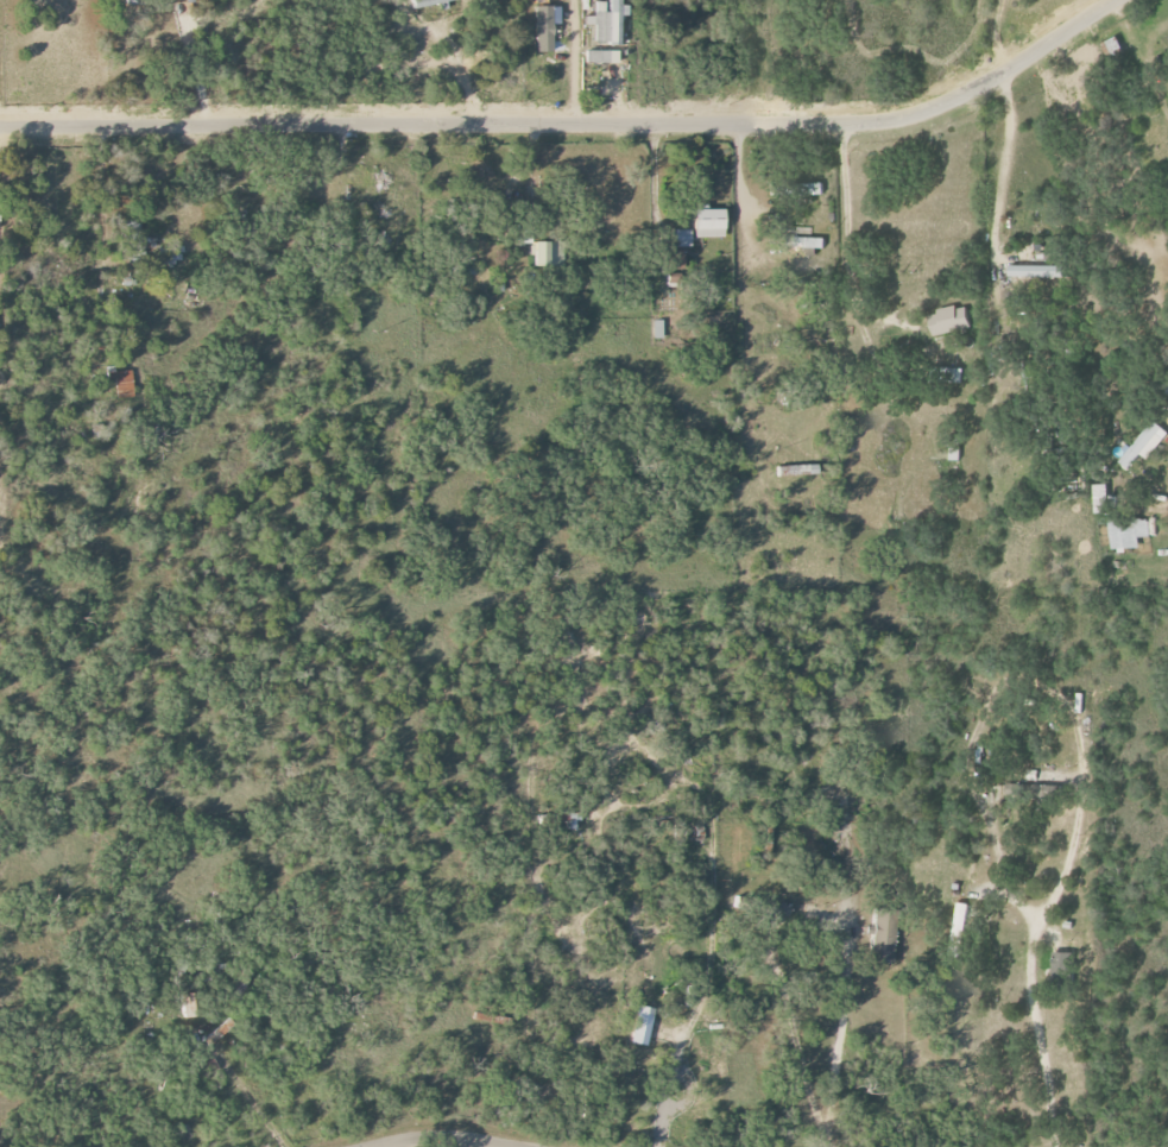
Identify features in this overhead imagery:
building: (184, 1)
building: (429, 4)
building: (606, 23)
building: (543, 30)
road: (993, 33)
building: (1113, 48)
building: (601, 57)
road: (568, 61)
road: (460, 73)
road: (570, 124)
road: (1002, 165)
road: (648, 176)
road: (532, 178)
building: (709, 223)
building: (682, 239)
building: (803, 242)
building: (147, 245)
road: (845, 246)
building: (169, 256)
building: (547, 256)
building: (677, 260)
building: (1034, 271)
building: (946, 320)
building: (658, 329)
building: (946, 374)
building: (124, 384)
building: (1141, 445)
building: (955, 453)
building: (803, 469)
building: (1096, 494)
building: (1124, 532)
building: (1033, 789)
building: (781, 913)
road: (797, 913)
building: (960, 921)
road: (1033, 932)
building: (882, 935)
building: (188, 1006)
building: (642, 1026)
road: (252, 1103)
road: (833, 1135)
road: (440, 1136)

